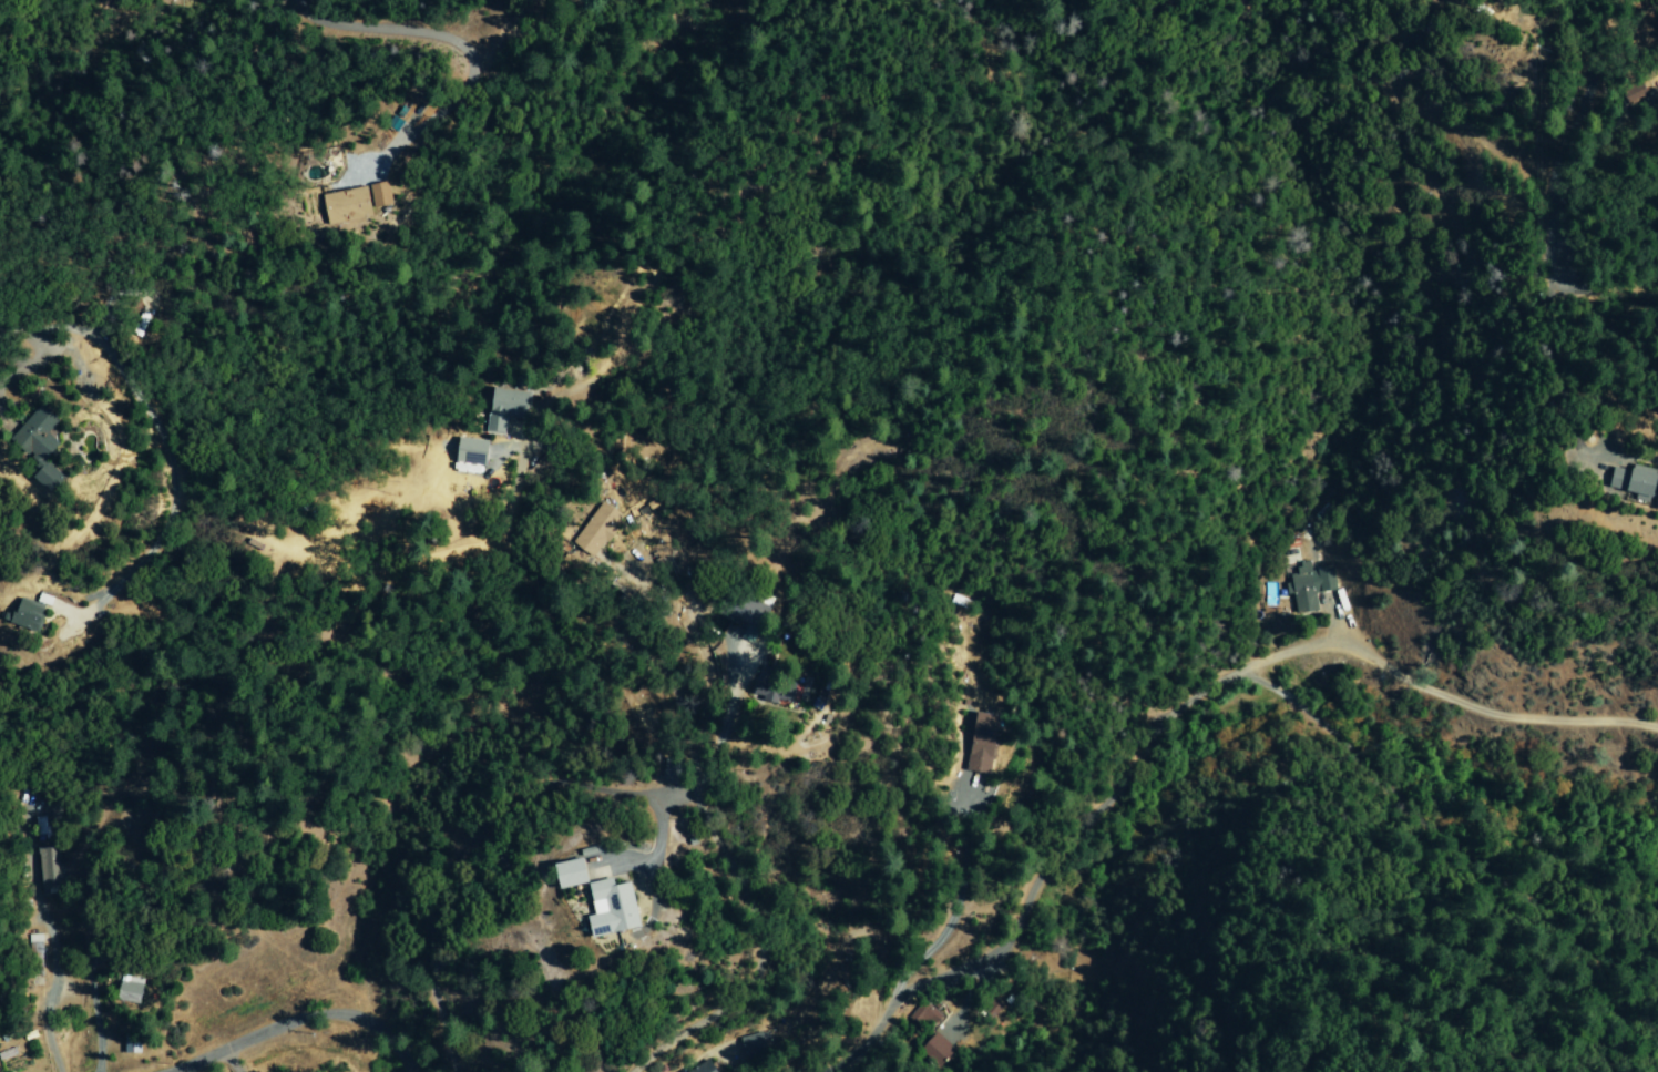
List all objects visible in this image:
road: (355, 25)
building: (1633, 94)
road: (457, 102)
road: (1552, 154)
building: (378, 195)
building: (344, 206)
building: (505, 408)
building: (25, 446)
building: (467, 456)
building: (1625, 481)
building: (595, 530)
building: (1309, 583)
building: (738, 611)
building: (24, 614)
building: (770, 692)
road: (1173, 712)
building: (980, 744)
road: (433, 860)
building: (51, 867)
building: (562, 874)
road: (956, 907)
building: (604, 908)
road: (759, 940)
building: (38, 949)
road: (49, 980)
building: (127, 990)
building: (993, 1008)
building: (923, 1014)
road: (293, 1018)
building: (751, 1045)
building: (935, 1050)
road: (696, 1056)
building: (700, 1068)
road: (409, 1071)

